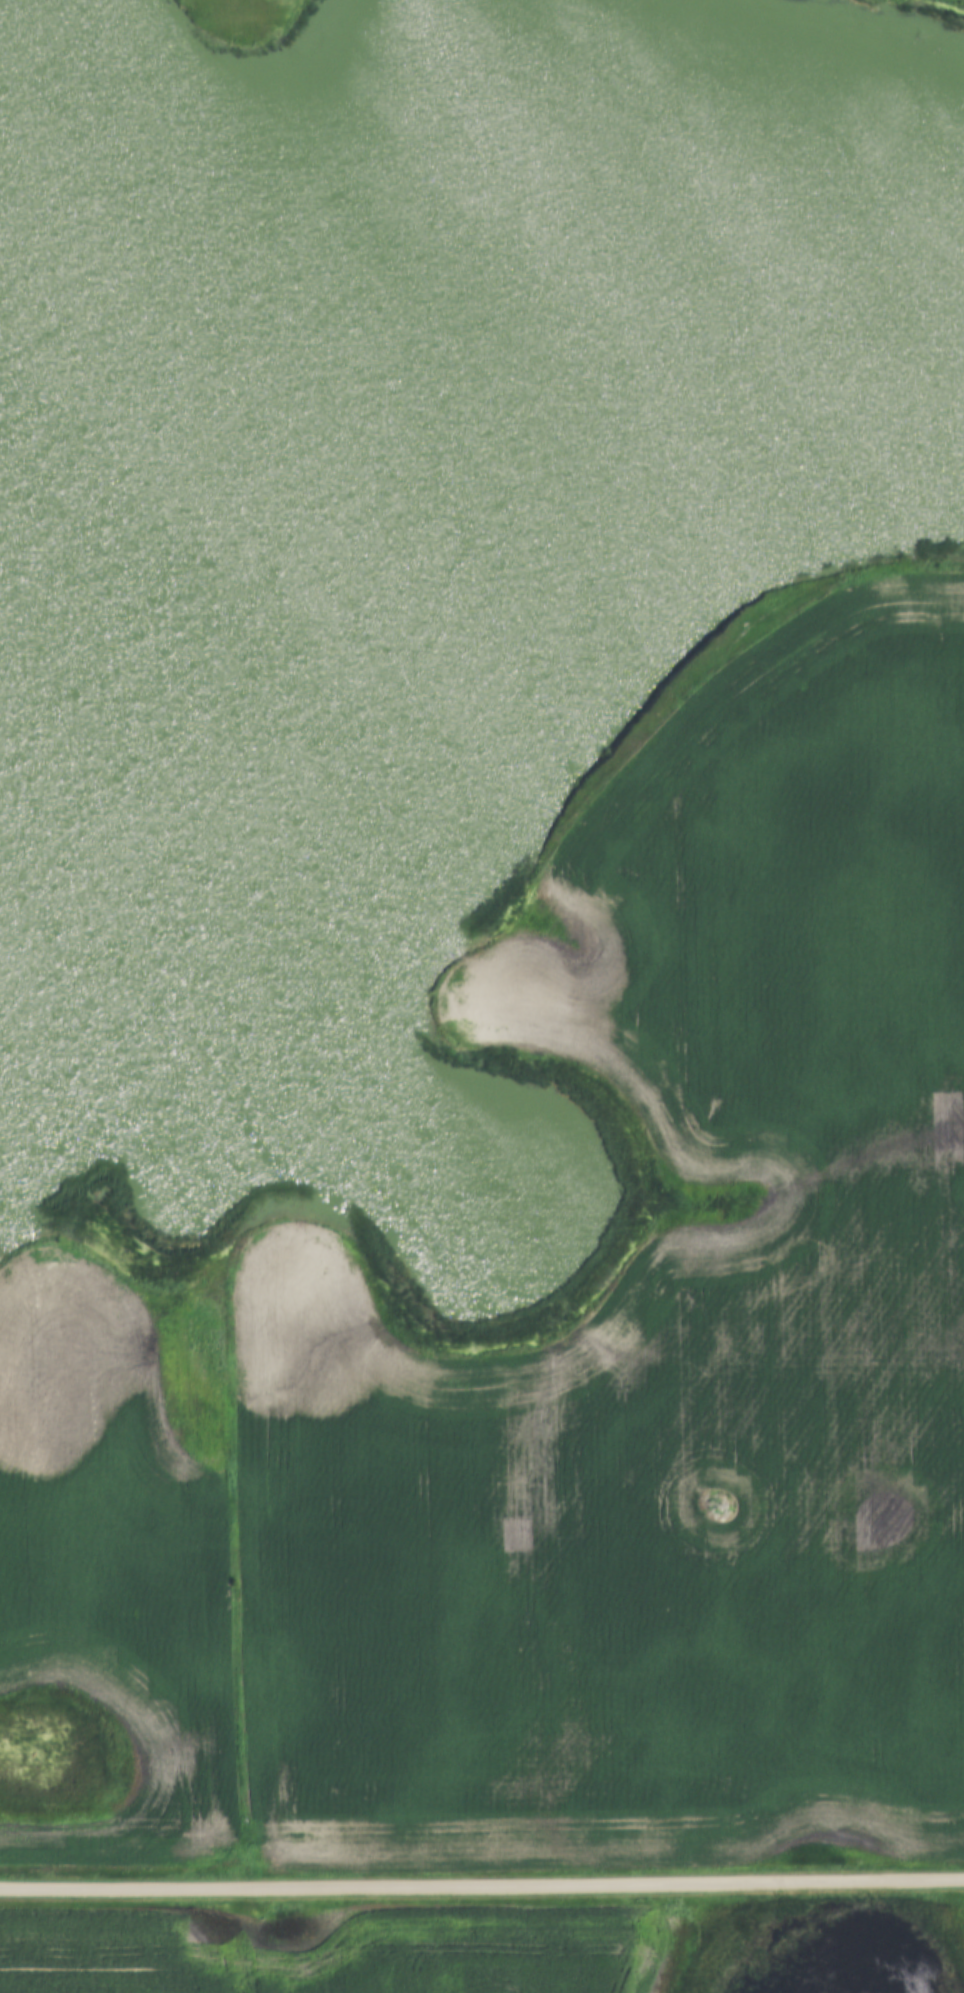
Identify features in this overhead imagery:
road: (482, 1891)

